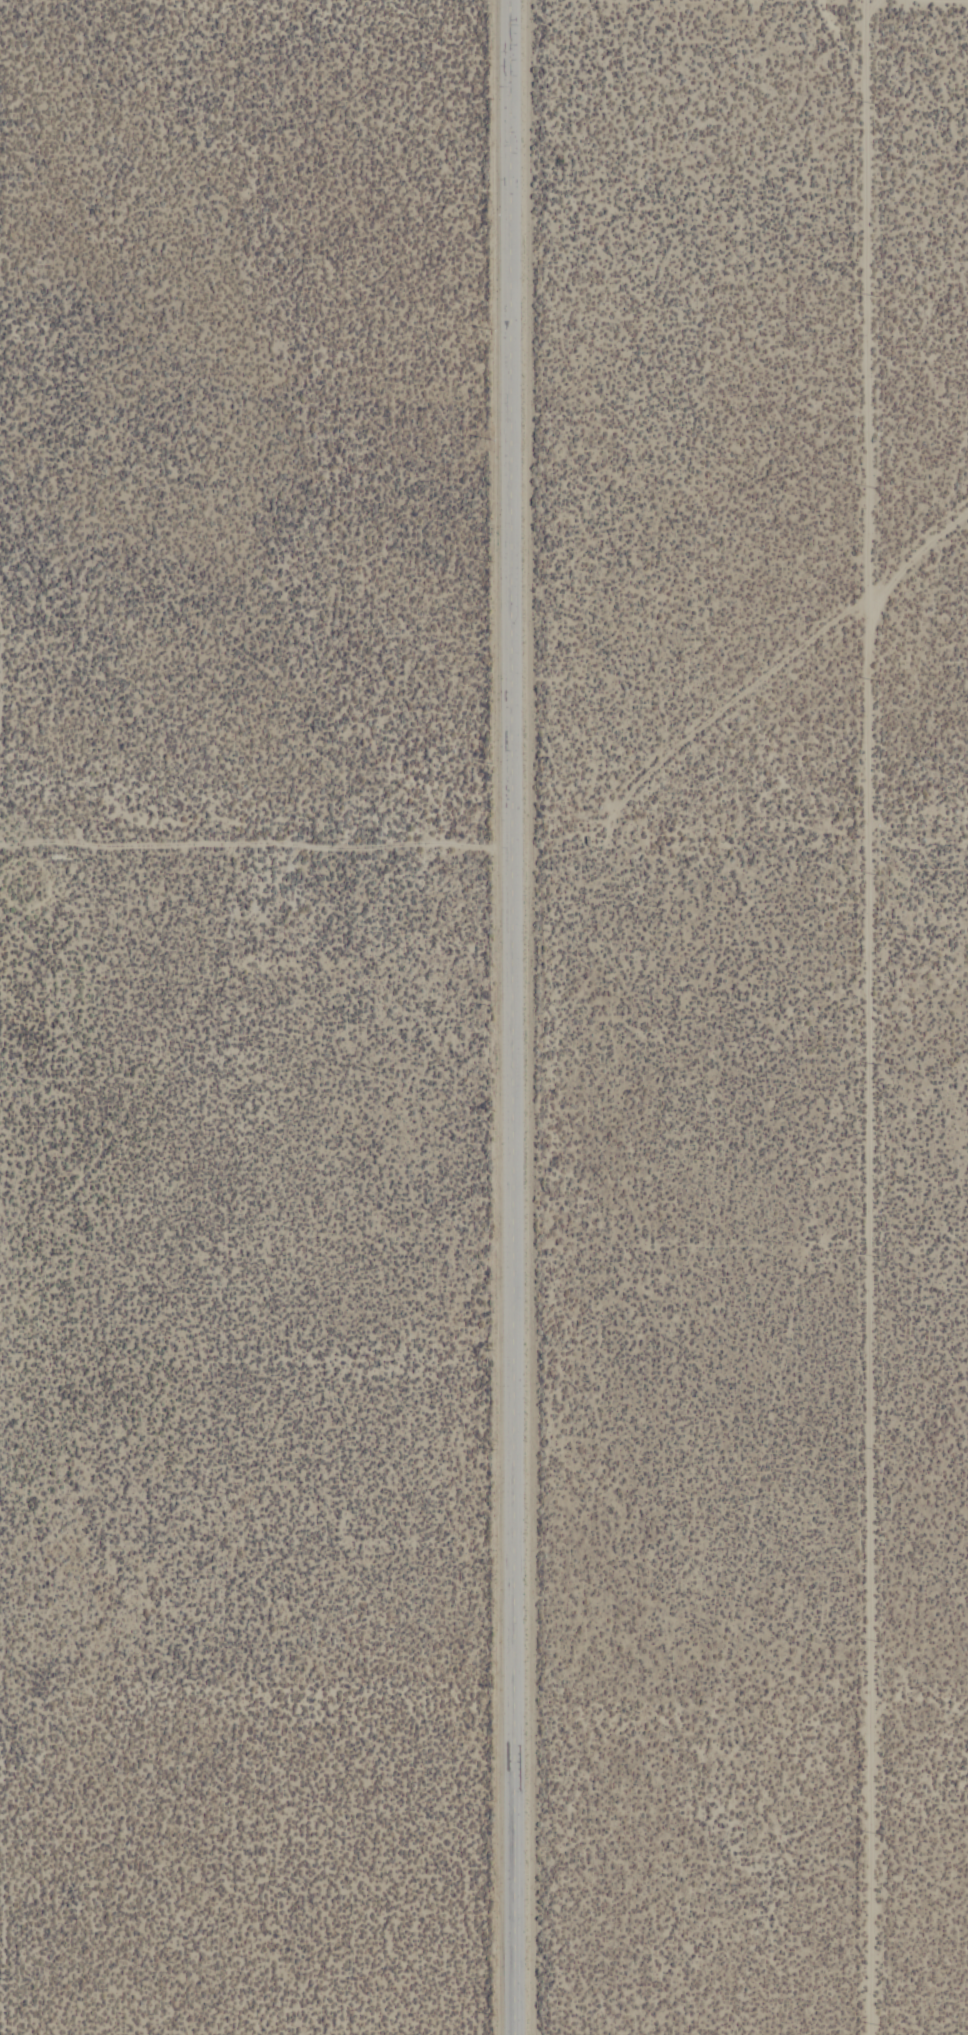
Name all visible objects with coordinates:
road: (517, 1017)
road: (873, 1017)

